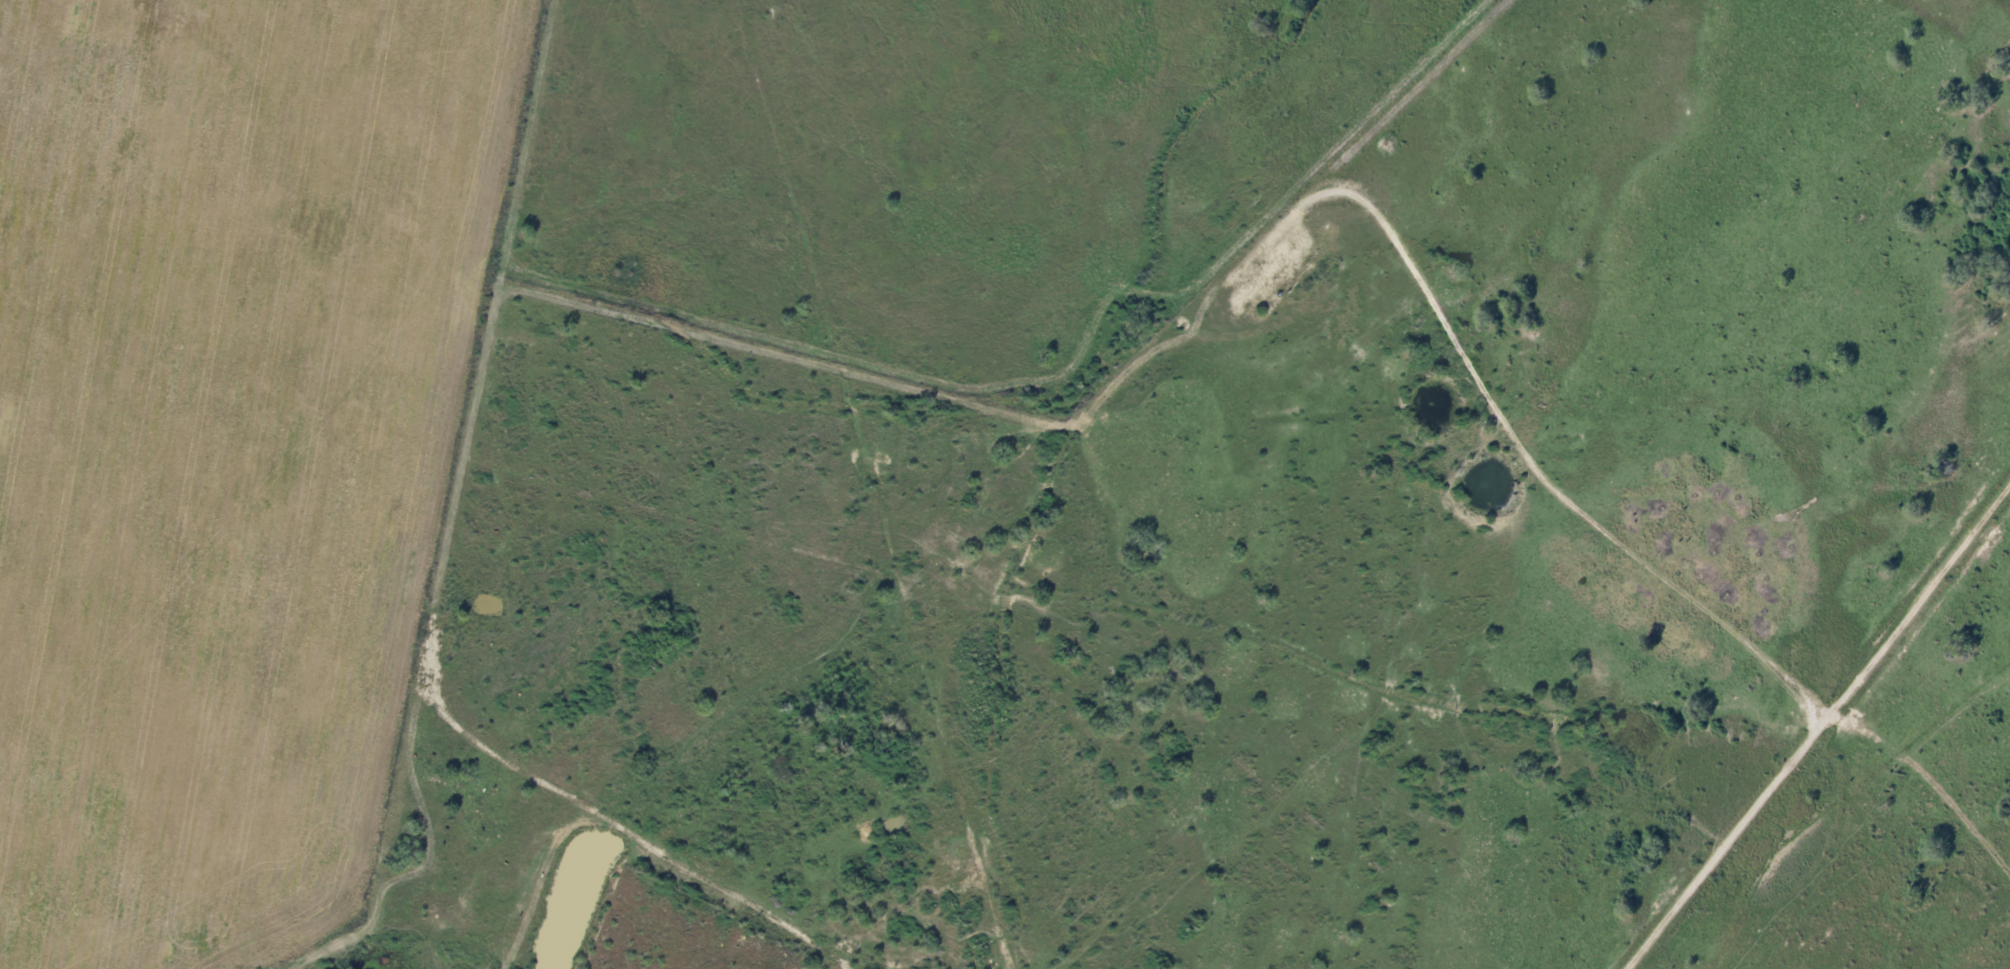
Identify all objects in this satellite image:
road: (1677, 596)
road: (1819, 727)
road: (990, 910)

